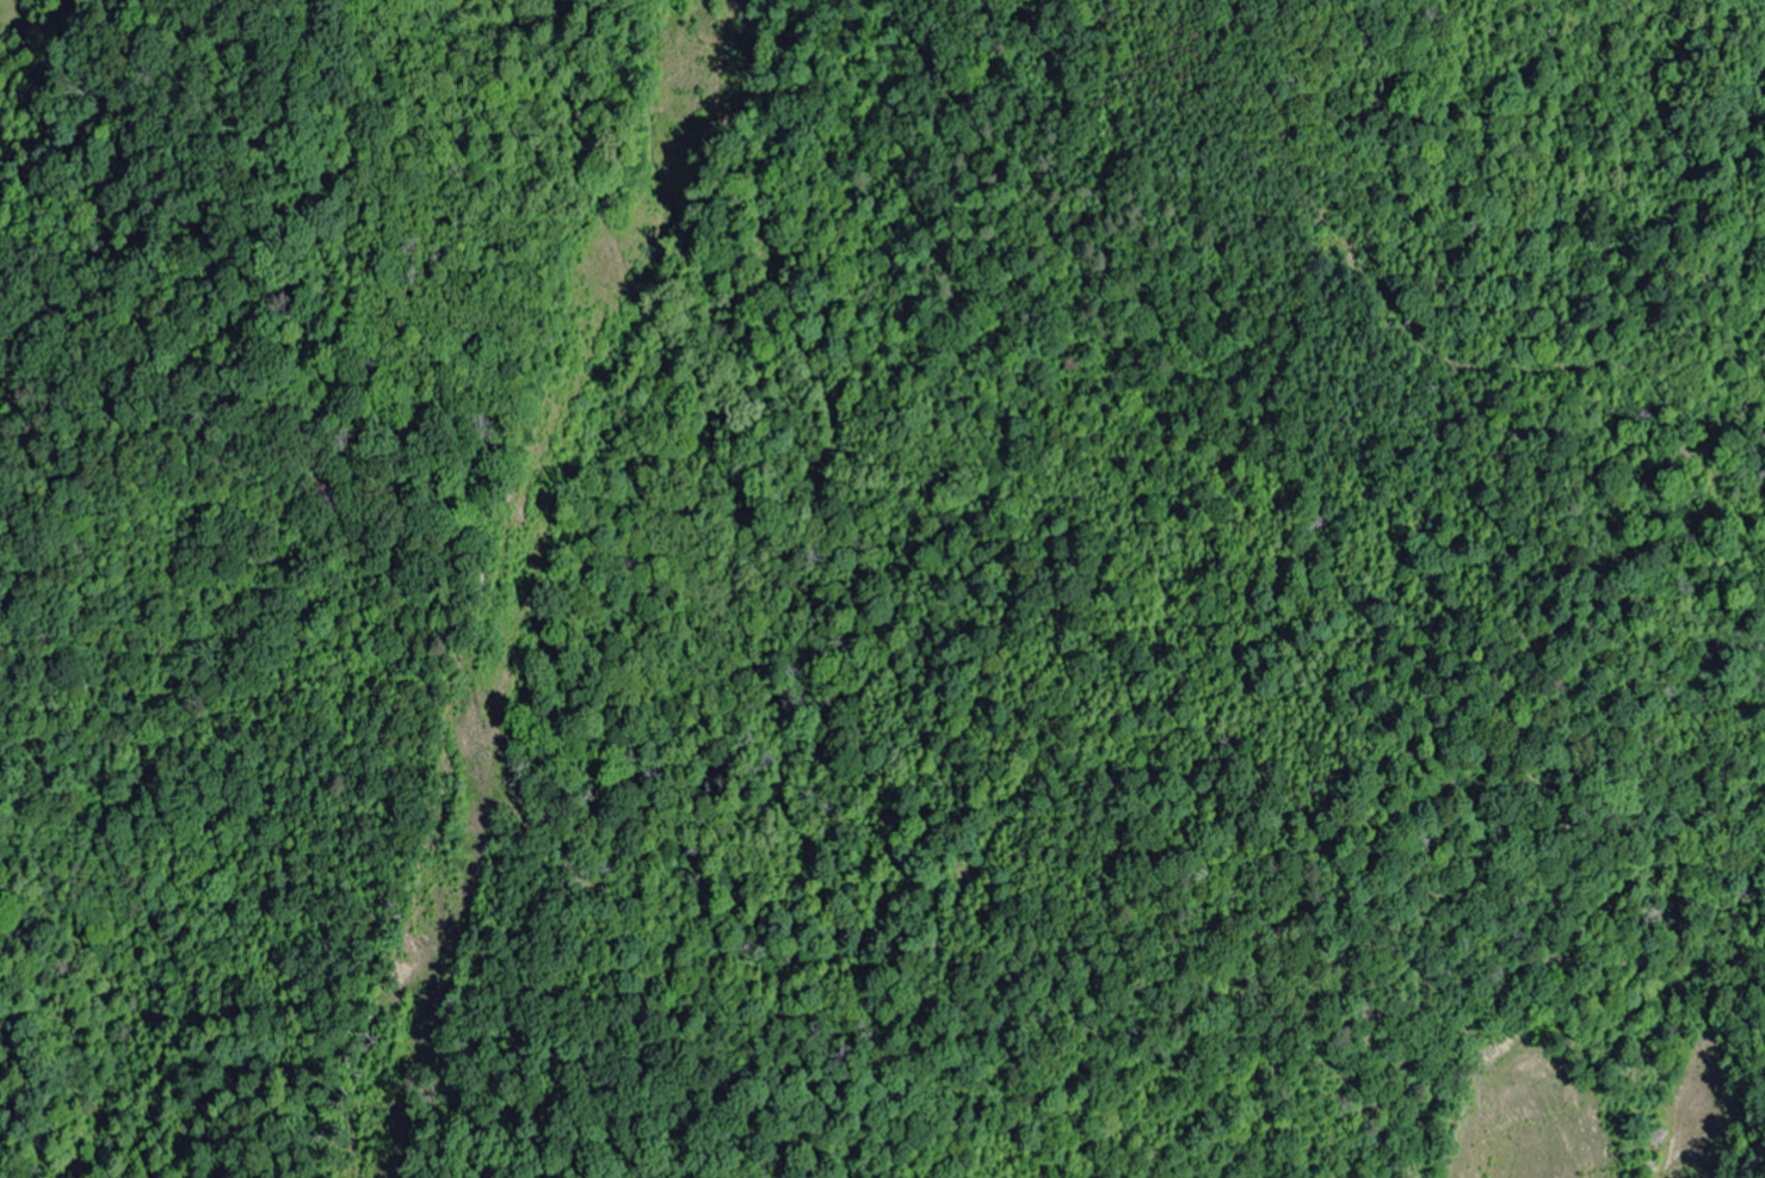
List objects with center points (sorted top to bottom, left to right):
building: (1659, 1135)

